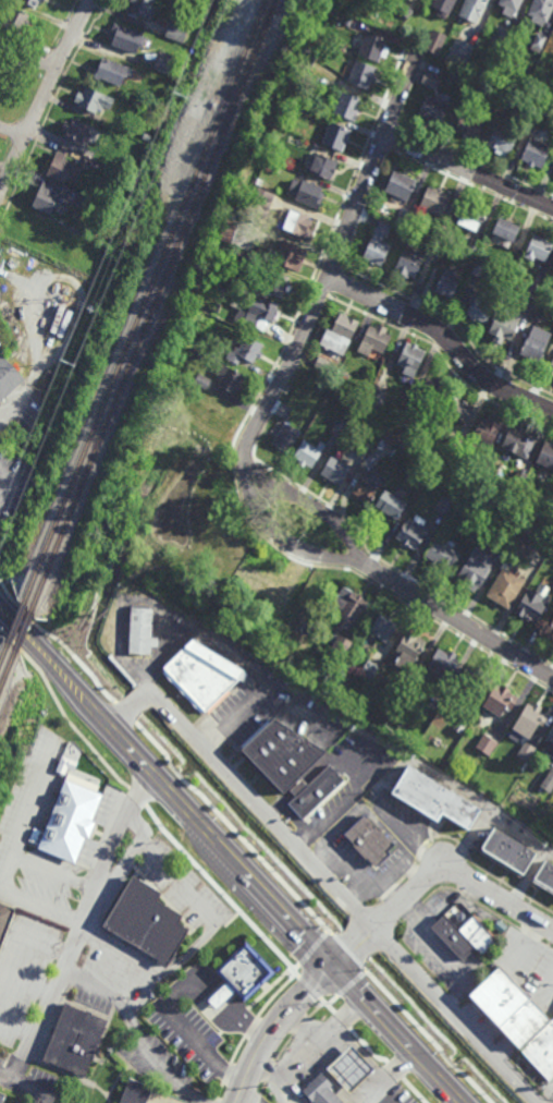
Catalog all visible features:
building: (411, 0)
building: (32, 2)
building: (204, 5)
building: (444, 8)
building: (511, 8)
building: (142, 9)
building: (475, 10)
building: (408, 12)
building: (540, 13)
building: (15, 20)
building: (351, 24)
building: (177, 31)
building: (128, 38)
building: (505, 38)
building: (194, 39)
building: (435, 41)
building: (538, 44)
building: (373, 47)
building: (186, 49)
building: (460, 51)
road: (28, 62)
building: (168, 63)
building: (113, 72)
building: (361, 73)
building: (458, 73)
building: (430, 78)
building: (474, 82)
road: (42, 94)
power tower: (177, 95)
building: (506, 97)
building: (94, 99)
building: (347, 105)
building: (434, 108)
building: (538, 108)
building: (304, 109)
building: (471, 121)
building: (79, 131)
road: (11, 132)
building: (335, 135)
building: (148, 136)
building: (503, 137)
building: (534, 150)
building: (322, 166)
building: (63, 168)
building: (278, 168)
road: (469, 172)
building: (306, 192)
building: (403, 193)
building: (74, 197)
building: (266, 198)
building: (49, 199)
building: (435, 199)
building: (257, 206)
building: (472, 215)
building: (296, 222)
building: (506, 227)
building: (32, 230)
building: (441, 231)
building: (226, 232)
building: (379, 242)
building: (475, 245)
building: (433, 246)
building: (538, 246)
building: (94, 252)
building: (444, 252)
building: (515, 253)
building: (290, 254)
road: (335, 256)
building: (245, 257)
building: (409, 263)
building: (479, 267)
building: (552, 267)
railway: (152, 281)
building: (450, 281)
building: (275, 282)
railway: (161, 286)
building: (532, 290)
building: (221, 292)
building: (213, 305)
building: (481, 306)
building: (257, 312)
building: (537, 312)
building: (504, 323)
building: (340, 332)
road: (445, 338)
building: (374, 339)
building: (533, 347)
building: (245, 351)
building: (198, 353)
building: (411, 357)
power tower: (69, 362)
building: (322, 363)
building: (550, 366)
building: (344, 375)
building: (9, 377)
building: (229, 377)
building: (202, 380)
building: (320, 386)
building: (435, 388)
building: (377, 398)
building: (458, 408)
road: (9, 410)
building: (181, 411)
building: (211, 412)
building: (339, 427)
building: (488, 428)
building: (284, 435)
building: (395, 435)
building: (517, 441)
building: (454, 446)
building: (362, 449)
building: (306, 453)
building: (545, 454)
building: (487, 465)
building: (335, 470)
building: (520, 478)
building: (366, 487)
building: (546, 493)
building: (391, 504)
building: (445, 505)
road: (307, 508)
building: (534, 513)
road: (183, 522)
building: (413, 534)
road: (276, 536)
building: (502, 541)
building: (520, 547)
building: (444, 553)
building: (475, 573)
building: (505, 587)
building: (532, 603)
building: (349, 608)
railway: (20, 611)
road: (458, 620)
railway: (25, 626)
building: (383, 628)
building: (140, 630)
building: (550, 631)
building: (341, 644)
building: (409, 649)
building: (444, 663)
road: (156, 668)
building: (370, 669)
building: (200, 674)
building: (470, 682)
railway: (2, 683)
road: (147, 687)
building: (501, 699)
building: (530, 718)
building: (462, 725)
building: (549, 742)
building: (488, 744)
building: (526, 750)
building: (281, 754)
building: (69, 766)
building: (548, 779)
building: (314, 790)
building: (432, 798)
building: (70, 821)
road: (136, 825)
road: (121, 828)
building: (36, 836)
building: (371, 839)
road: (137, 847)
building: (506, 851)
road: (229, 857)
road: (433, 875)
building: (544, 875)
road: (285, 877)
road: (323, 878)
building: (5, 921)
building: (145, 921)
building: (478, 936)
building: (452, 940)
road: (197, 945)
traffic signals: (334, 970)
road: (64, 975)
building: (241, 975)
road: (221, 995)
building: (508, 1009)
road: (245, 1020)
road: (342, 1023)
road: (181, 1027)
road: (274, 1029)
road: (136, 1034)
road: (434, 1035)
building: (75, 1040)
building: (541, 1051)
road: (305, 1059)
road: (372, 1063)
road: (20, 1067)
building: (351, 1069)
road: (10, 1077)
road: (34, 1090)
building: (322, 1091)
building: (143, 1094)
building: (1, 1096)

